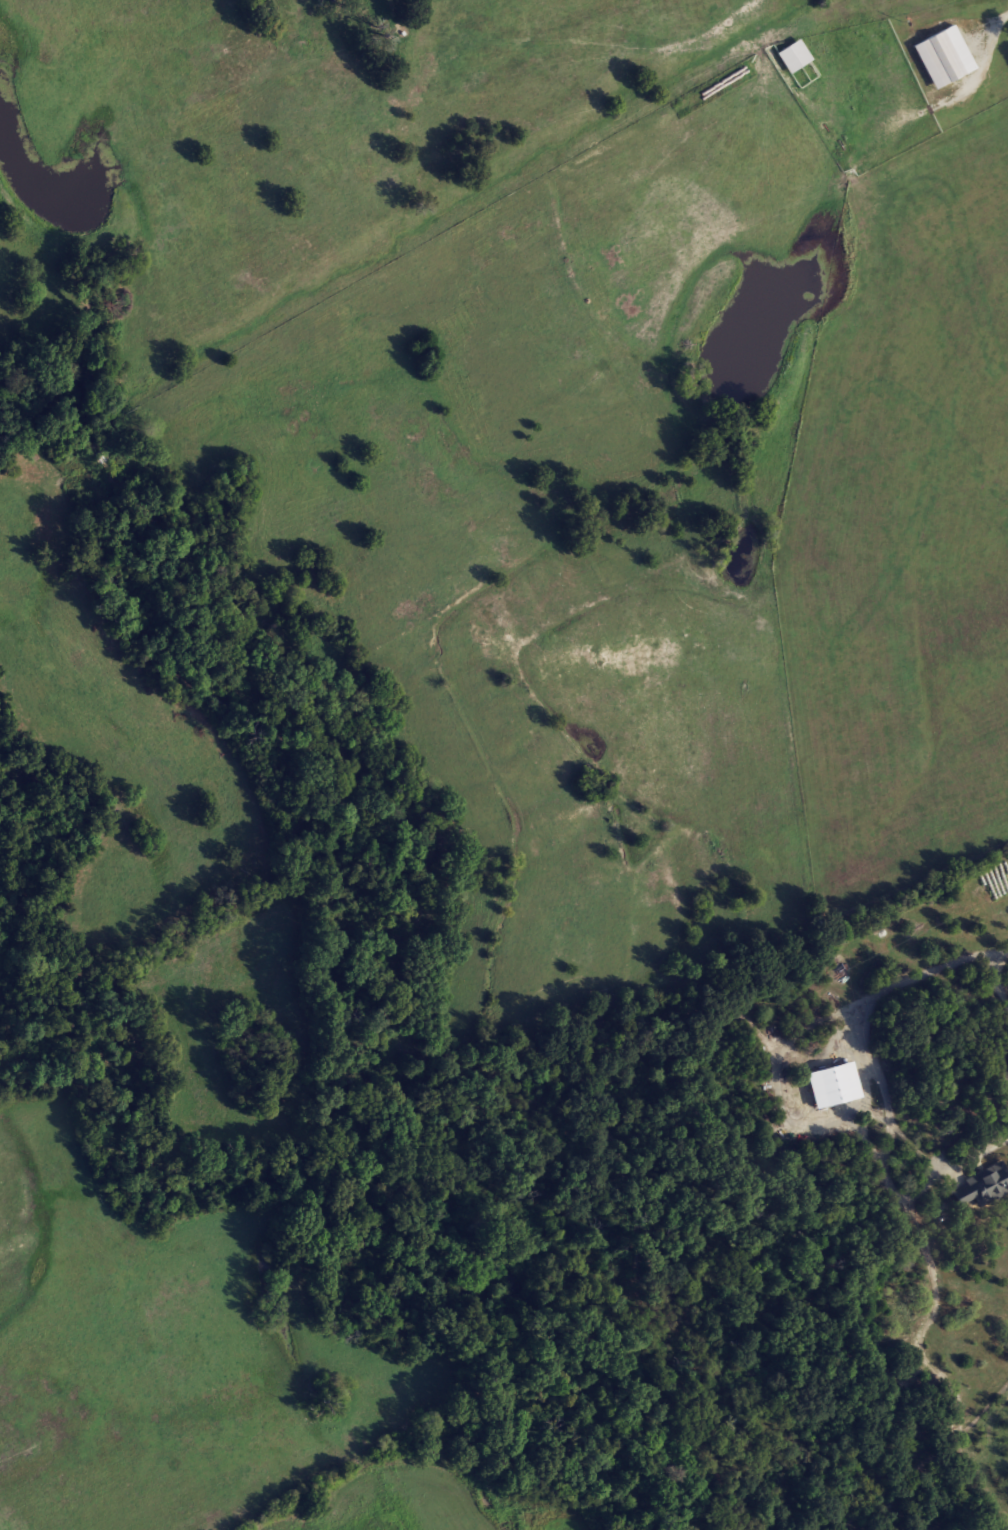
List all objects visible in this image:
building: (791, 56)
building: (942, 57)
road: (919, 973)
building: (830, 1085)
building: (980, 1187)

